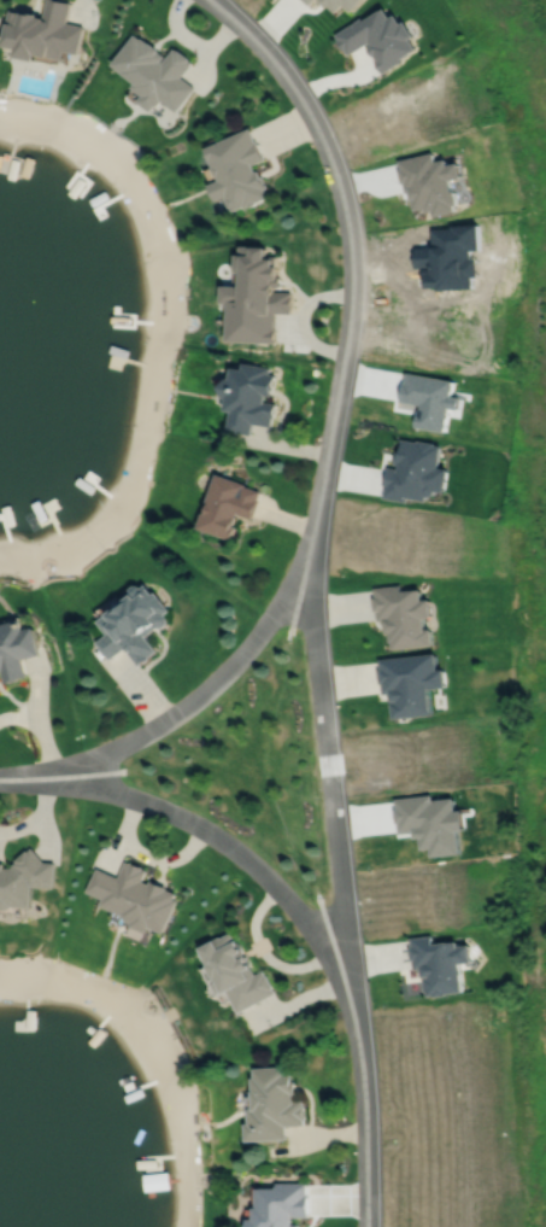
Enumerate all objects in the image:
building: (307, 1)
building: (337, 4)
building: (42, 31)
building: (377, 37)
building: (155, 72)
building: (236, 170)
building: (254, 298)
building: (248, 398)
building: (415, 473)
road: (322, 493)
building: (227, 507)
building: (406, 613)
building: (133, 621)
building: (16, 647)
building: (412, 680)
road: (196, 697)
building: (433, 820)
road: (242, 855)
building: (24, 878)
building: (135, 895)
building: (442, 963)
building: (237, 972)
building: (275, 1104)
road: (369, 1129)
building: (281, 1205)

